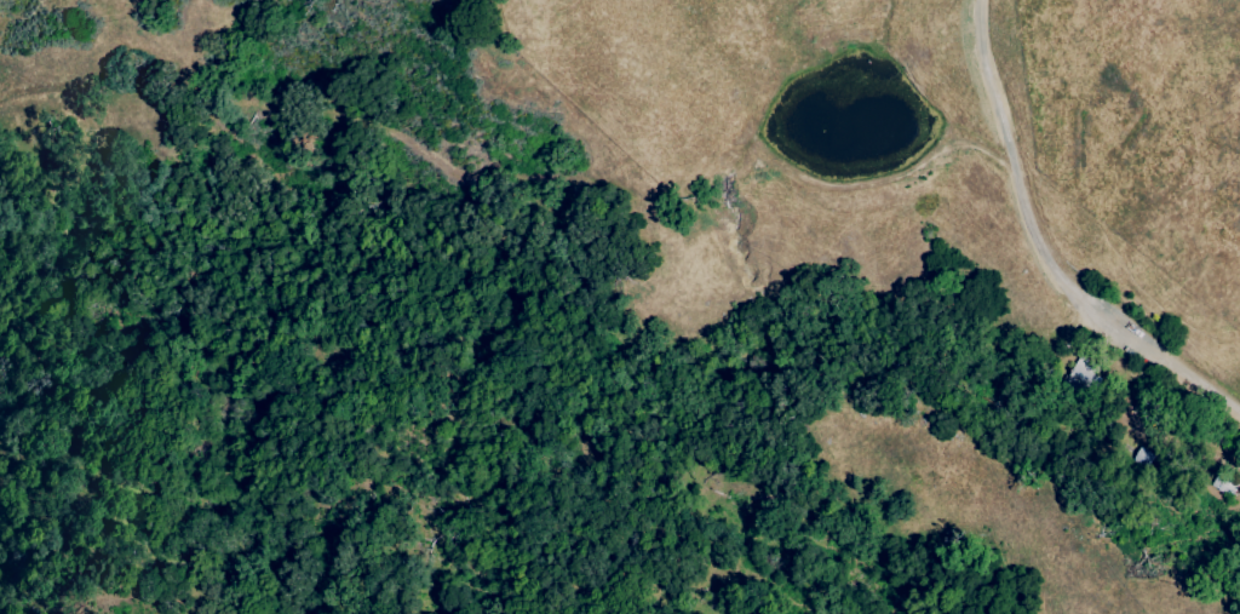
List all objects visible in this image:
road: (1043, 247)

